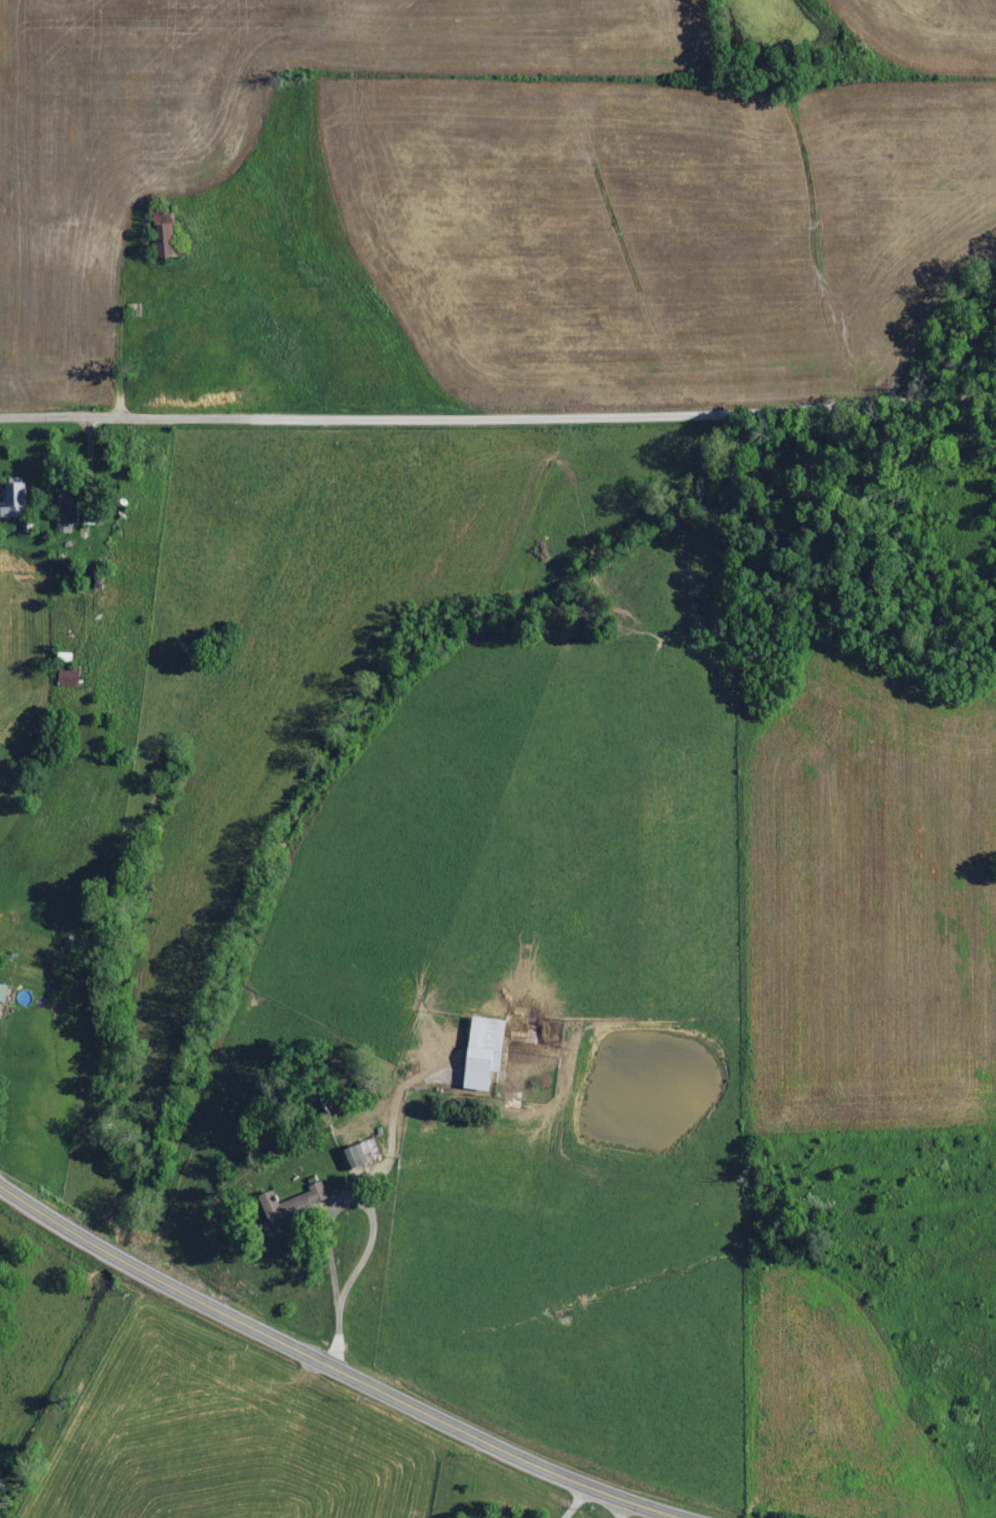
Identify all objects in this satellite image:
building: (164, 235)
road: (265, 315)
road: (498, 417)
road: (89, 493)
building: (14, 500)
building: (69, 675)
building: (3, 991)
building: (485, 1043)
building: (368, 1149)
building: (354, 1155)
building: (293, 1203)
road: (326, 1203)
road: (337, 1323)
road: (333, 1365)
road: (574, 1500)
road: (619, 1506)

